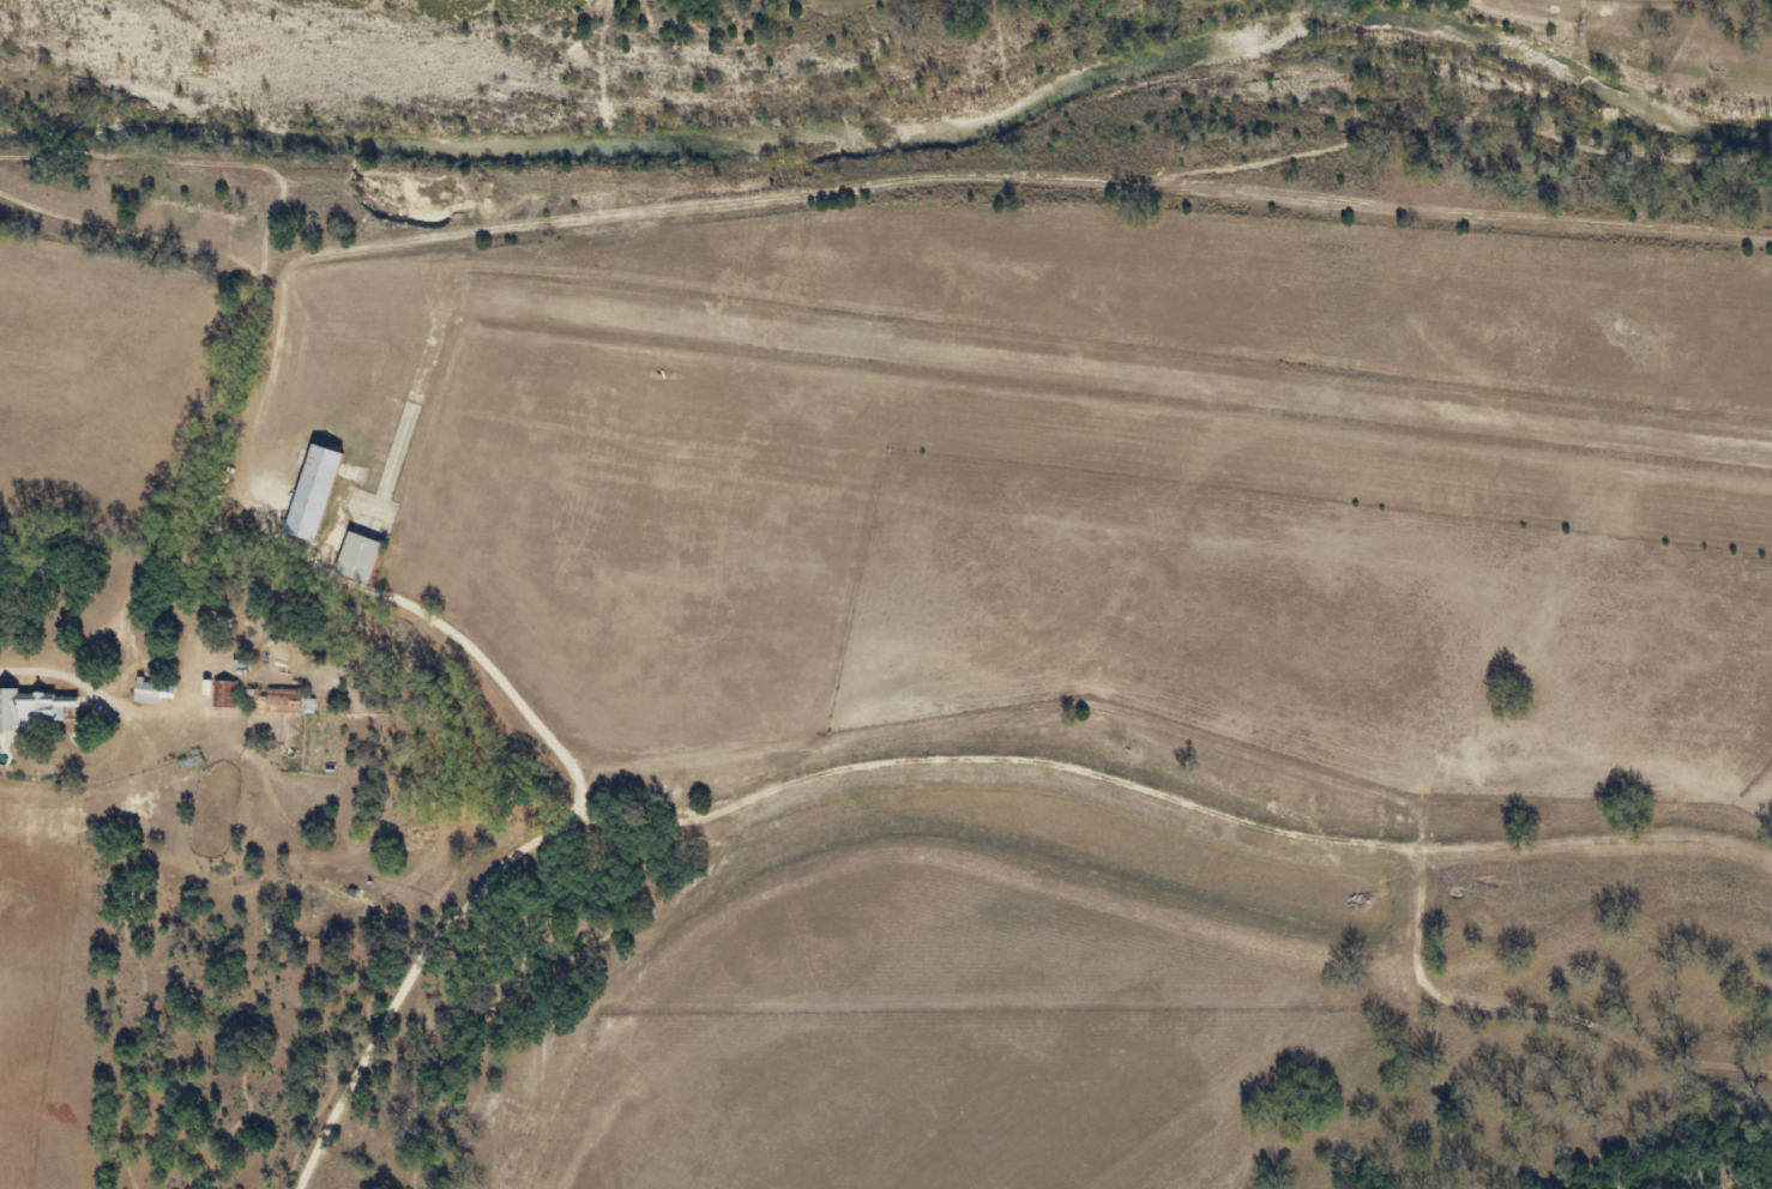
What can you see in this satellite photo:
river: (905, 107)
airport taxiway: (439, 346)
airport runway: (1114, 369)
airport taxiway: (406, 447)
building: (376, 488)
airport hangar: (319, 491)
building: (319, 491)
airport apron: (379, 509)
airport hangar: (362, 556)
building: (362, 556)
road: (23, 670)
building: (138, 698)
building: (209, 699)
building: (275, 711)
building: (24, 714)
road: (506, 874)

